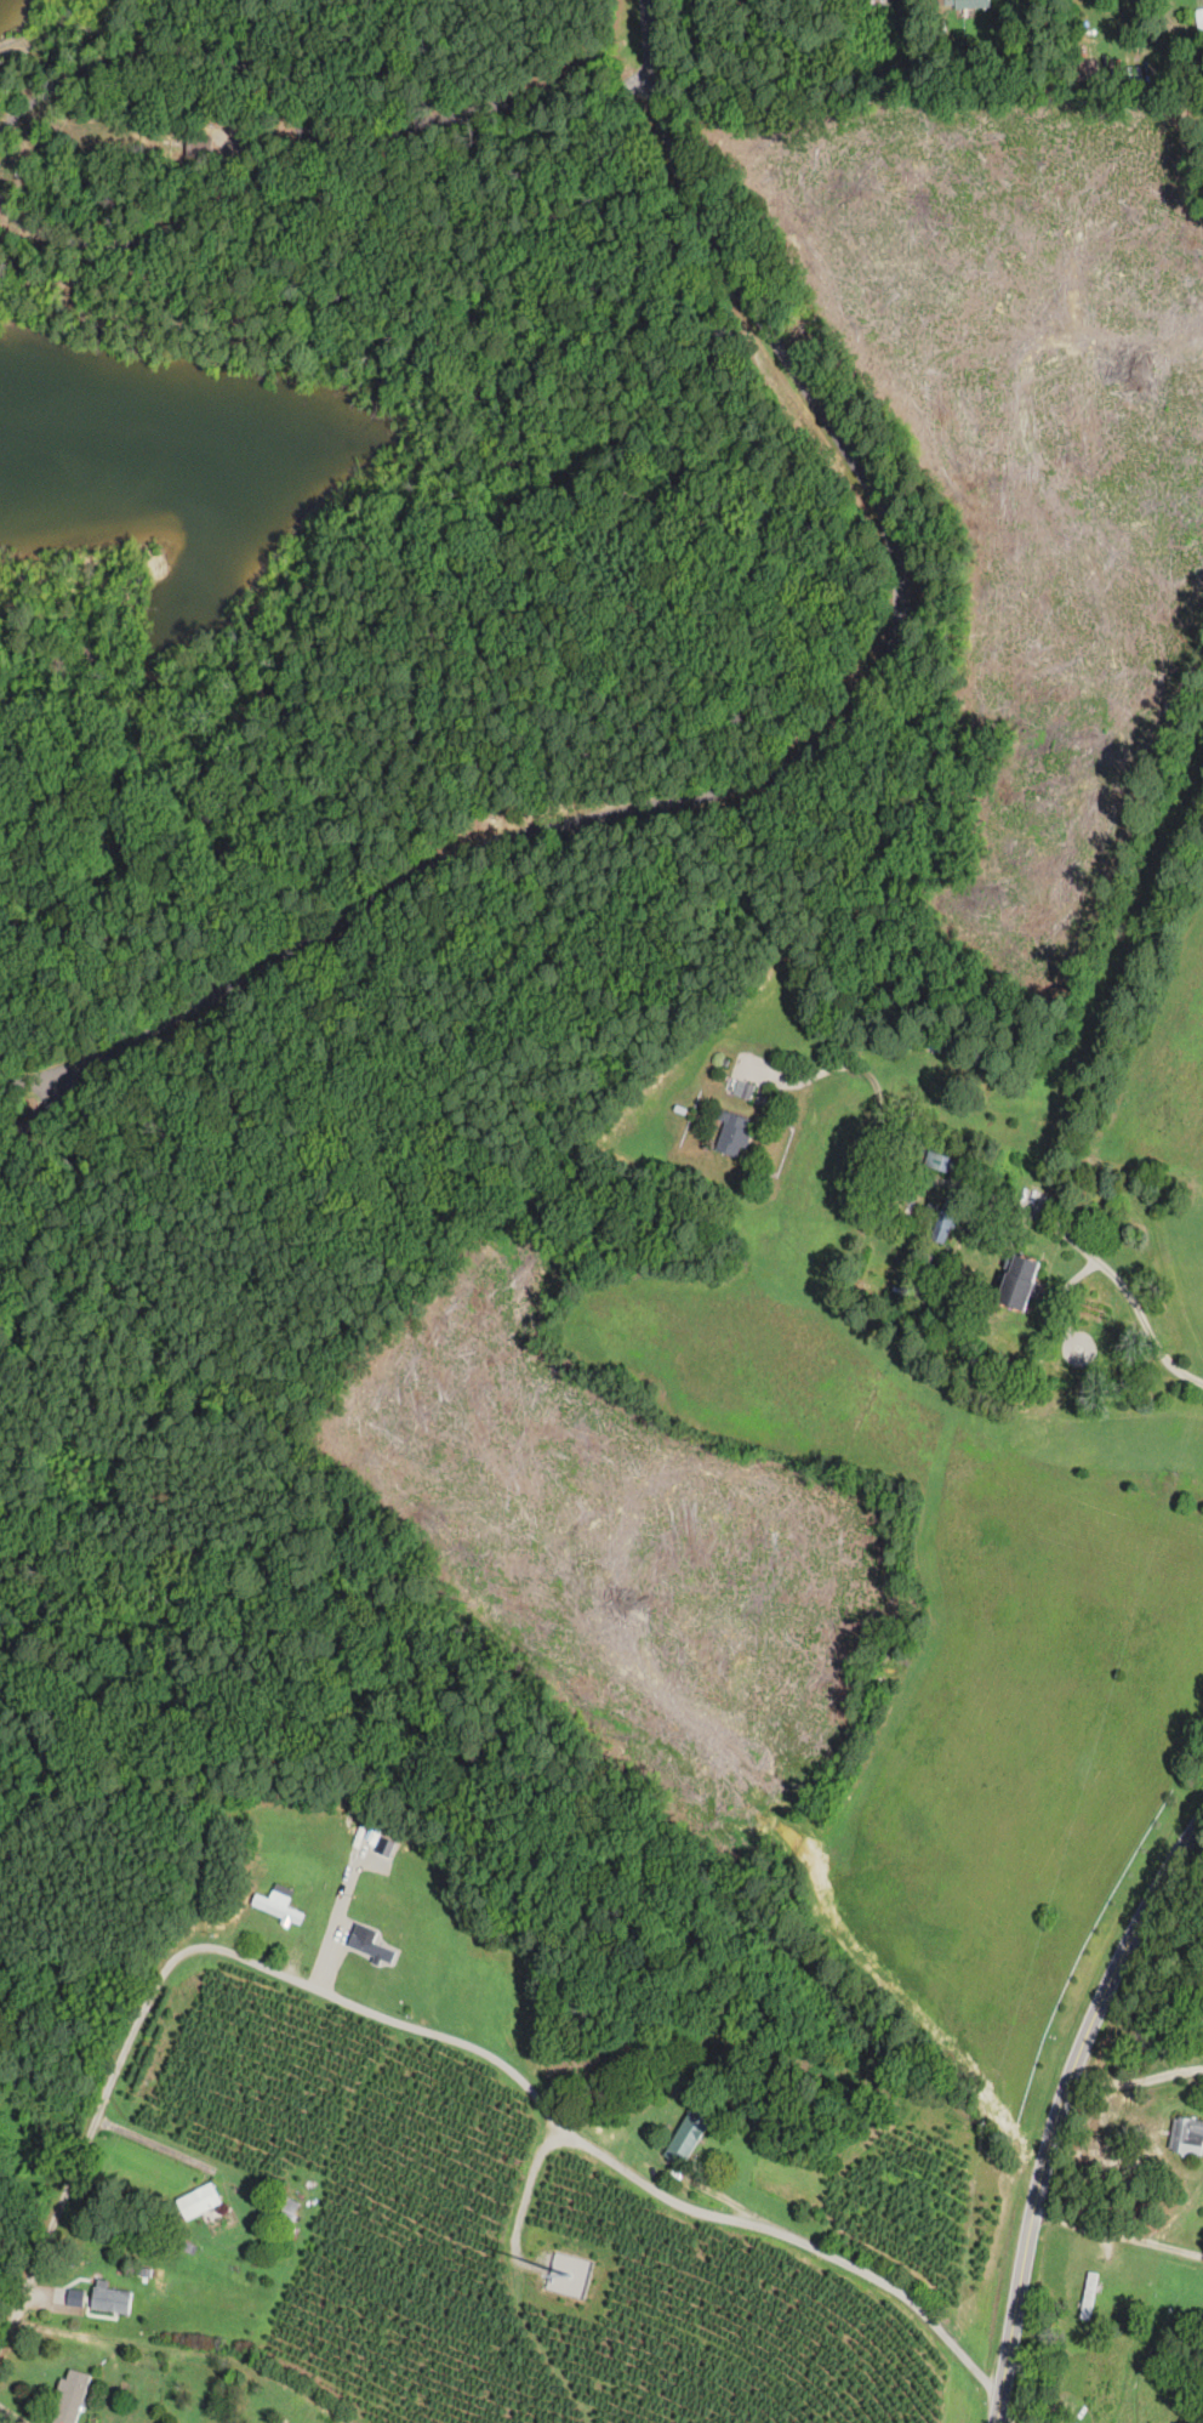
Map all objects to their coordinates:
building: (970, 4)
building: (1087, 69)
road: (506, 124)
building: (199, 148)
road: (24, 224)
road: (575, 565)
road: (756, 763)
park: (380, 789)
road: (59, 865)
building: (742, 1090)
building: (1124, 1100)
building: (732, 1133)
building: (936, 1160)
road: (970, 1184)
building: (940, 1225)
building: (1016, 1280)
building: (279, 1904)
building: (375, 1947)
road: (1139, 2080)
road: (1060, 2117)
building: (686, 2135)
building: (1186, 2137)
road: (592, 2143)
road: (80, 2167)
building: (198, 2201)
building: (281, 2208)
road: (1118, 2235)
building: (1088, 2296)
building: (109, 2298)
building: (70, 2396)
road: (1008, 2417)

